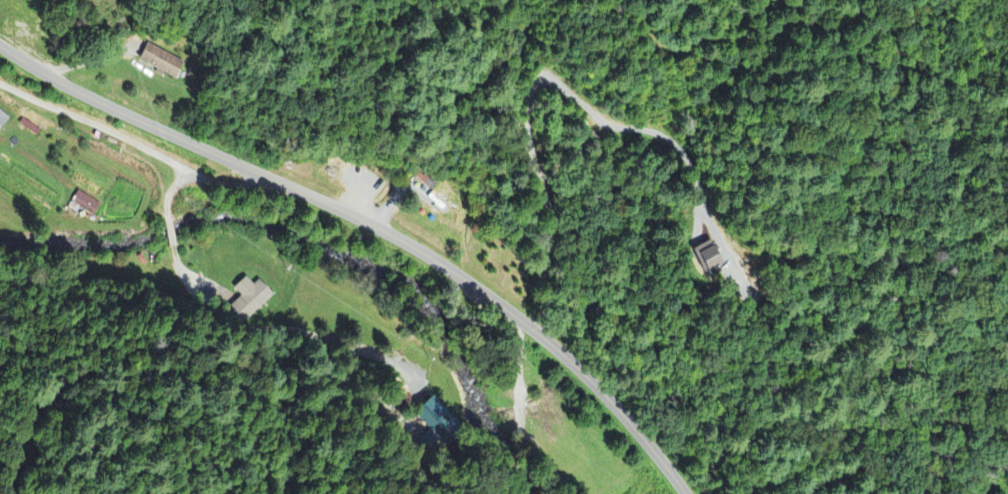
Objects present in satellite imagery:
road: (449, 18)
building: (163, 63)
building: (3, 122)
road: (531, 160)
road: (222, 183)
road: (169, 193)
building: (86, 206)
road: (373, 226)
road: (169, 229)
building: (713, 257)
building: (250, 301)
road: (243, 376)

